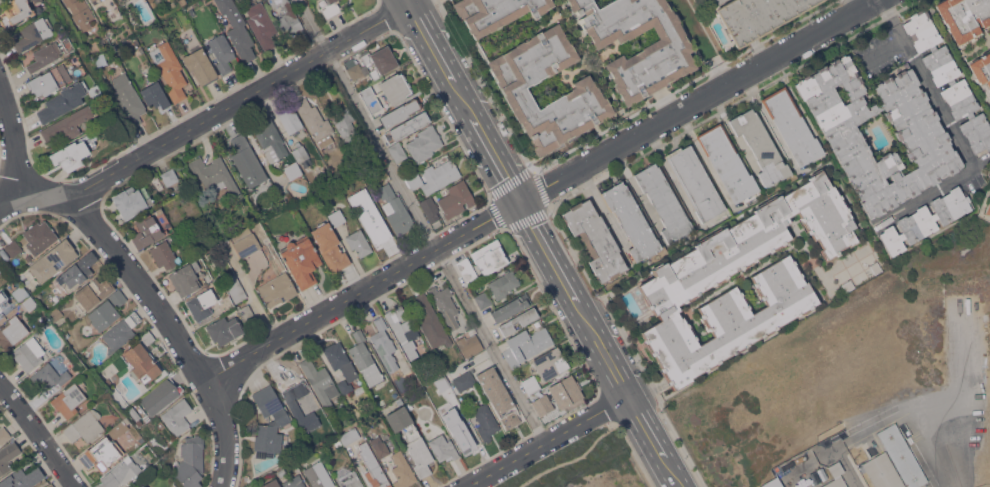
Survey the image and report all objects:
building: (91, 0)
building: (125, 0)
building: (95, 1)
road: (410, 2)
road: (869, 2)
building: (172, 3)
building: (331, 8)
building: (15, 11)
building: (80, 12)
building: (495, 12)
building: (757, 16)
building: (288, 17)
building: (964, 17)
building: (262, 24)
building: (237, 29)
building: (33, 33)
road: (706, 42)
building: (220, 52)
road: (883, 53)
road: (441, 55)
building: (660, 55)
building: (40, 56)
building: (372, 63)
building: (200, 64)
building: (981, 68)
building: (170, 69)
building: (49, 79)
building: (949, 79)
building: (584, 89)
building: (387, 91)
building: (156, 95)
building: (128, 99)
building: (62, 101)
road: (232, 105)
building: (400, 112)
building: (290, 118)
building: (315, 122)
building: (67, 124)
building: (407, 126)
building: (792, 126)
building: (351, 133)
building: (922, 135)
road: (951, 135)
building: (271, 140)
building: (424, 143)
building: (761, 145)
building: (74, 151)
building: (300, 151)
building: (397, 151)
road: (496, 154)
building: (247, 161)
building: (728, 164)
building: (292, 170)
building: (185, 171)
building: (214, 175)
building: (169, 176)
building: (434, 176)
building: (695, 182)
road: (541, 190)
building: (367, 198)
building: (456, 198)
building: (132, 200)
road: (23, 201)
traffic signals: (523, 201)
building: (664, 202)
building: (988, 207)
building: (395, 209)
building: (159, 210)
building: (431, 210)
building: (335, 213)
road: (426, 219)
building: (926, 219)
building: (631, 220)
building: (375, 229)
building: (147, 231)
building: (37, 233)
building: (595, 239)
building: (359, 242)
building: (247, 244)
building: (330, 246)
building: (13, 247)
building: (164, 255)
building: (489, 256)
building: (53, 260)
building: (302, 260)
road: (558, 263)
building: (0, 269)
building: (467, 269)
building: (78, 270)
road: (129, 271)
building: (0, 273)
building: (185, 278)
building: (685, 280)
building: (503, 284)
building: (235, 287)
building: (278, 288)
building: (93, 292)
building: (20, 293)
building: (3, 299)
building: (483, 299)
building: (30, 303)
building: (201, 304)
building: (446, 305)
building: (511, 307)
building: (107, 309)
building: (54, 312)
building: (246, 312)
building: (519, 320)
building: (431, 321)
building: (402, 324)
building: (64, 325)
building: (225, 329)
building: (11, 331)
building: (121, 331)
building: (147, 337)
building: (469, 342)
building: (527, 343)
building: (384, 344)
building: (29, 353)
building: (365, 359)
road: (612, 359)
building: (340, 360)
building: (142, 363)
building: (550, 363)
building: (448, 374)
building: (49, 375)
building: (320, 381)
building: (462, 381)
building: (531, 383)
building: (345, 386)
building: (430, 390)
building: (446, 390)
building: (568, 390)
building: (159, 396)
building: (499, 396)
building: (68, 399)
building: (398, 400)
building: (381, 402)
building: (409, 405)
road: (962, 407)
building: (543, 408)
building: (300, 410)
building: (134, 412)
building: (322, 413)
building: (177, 416)
building: (485, 421)
building: (269, 422)
building: (84, 426)
building: (118, 427)
building: (458, 431)
road: (40, 434)
building: (4, 435)
building: (349, 436)
road: (654, 436)
building: (411, 439)
road: (548, 440)
building: (334, 442)
building: (379, 446)
building: (443, 447)
building: (101, 453)
building: (902, 455)
building: (8, 456)
road: (577, 456)
park: (571, 460)
building: (191, 461)
building: (373, 467)
building: (402, 469)
building: (281, 471)
building: (883, 471)
building: (121, 473)
building: (319, 475)
building: (836, 476)
building: (348, 477)
building: (22, 478)
building: (294, 482)
road: (680, 482)
building: (271, 483)
building: (773, 483)
building: (50, 485)
building: (141, 485)
building: (252, 486)

